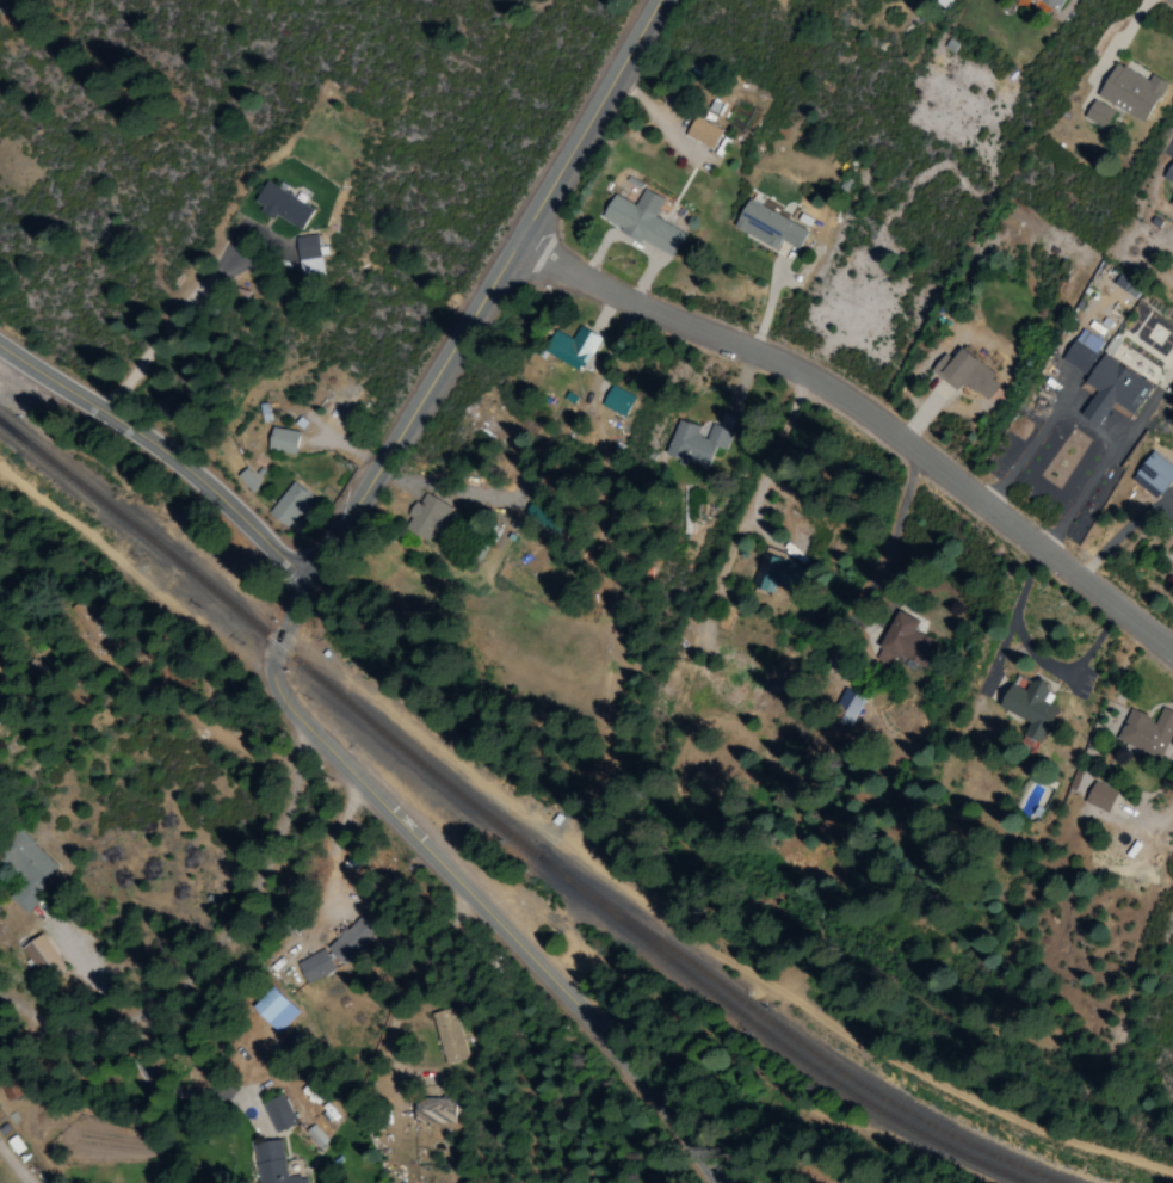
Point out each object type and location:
building: (1051, 4)
building: (1130, 92)
building: (1097, 115)
building: (702, 133)
building: (1168, 173)
building: (1171, 203)
building: (282, 207)
building: (642, 222)
building: (767, 227)
building: (308, 254)
road: (496, 290)
building: (572, 349)
building: (1082, 351)
building: (964, 374)
building: (1112, 390)
building: (616, 401)
road: (870, 409)
building: (282, 442)
building: (690, 445)
road: (167, 449)
building: (1153, 475)
building: (247, 480)
building: (289, 506)
building: (424, 518)
building: (778, 574)
railway: (271, 639)
building: (846, 709)
building: (1030, 709)
building: (1147, 733)
building: (1076, 782)
building: (1099, 797)
building: (26, 870)
road: (461, 887)
building: (334, 953)
road: (216, 956)
building: (42, 957)
building: (273, 1010)
building: (449, 1036)
railway: (770, 1039)
railway: (789, 1039)
building: (433, 1110)
building: (277, 1113)
building: (271, 1163)

